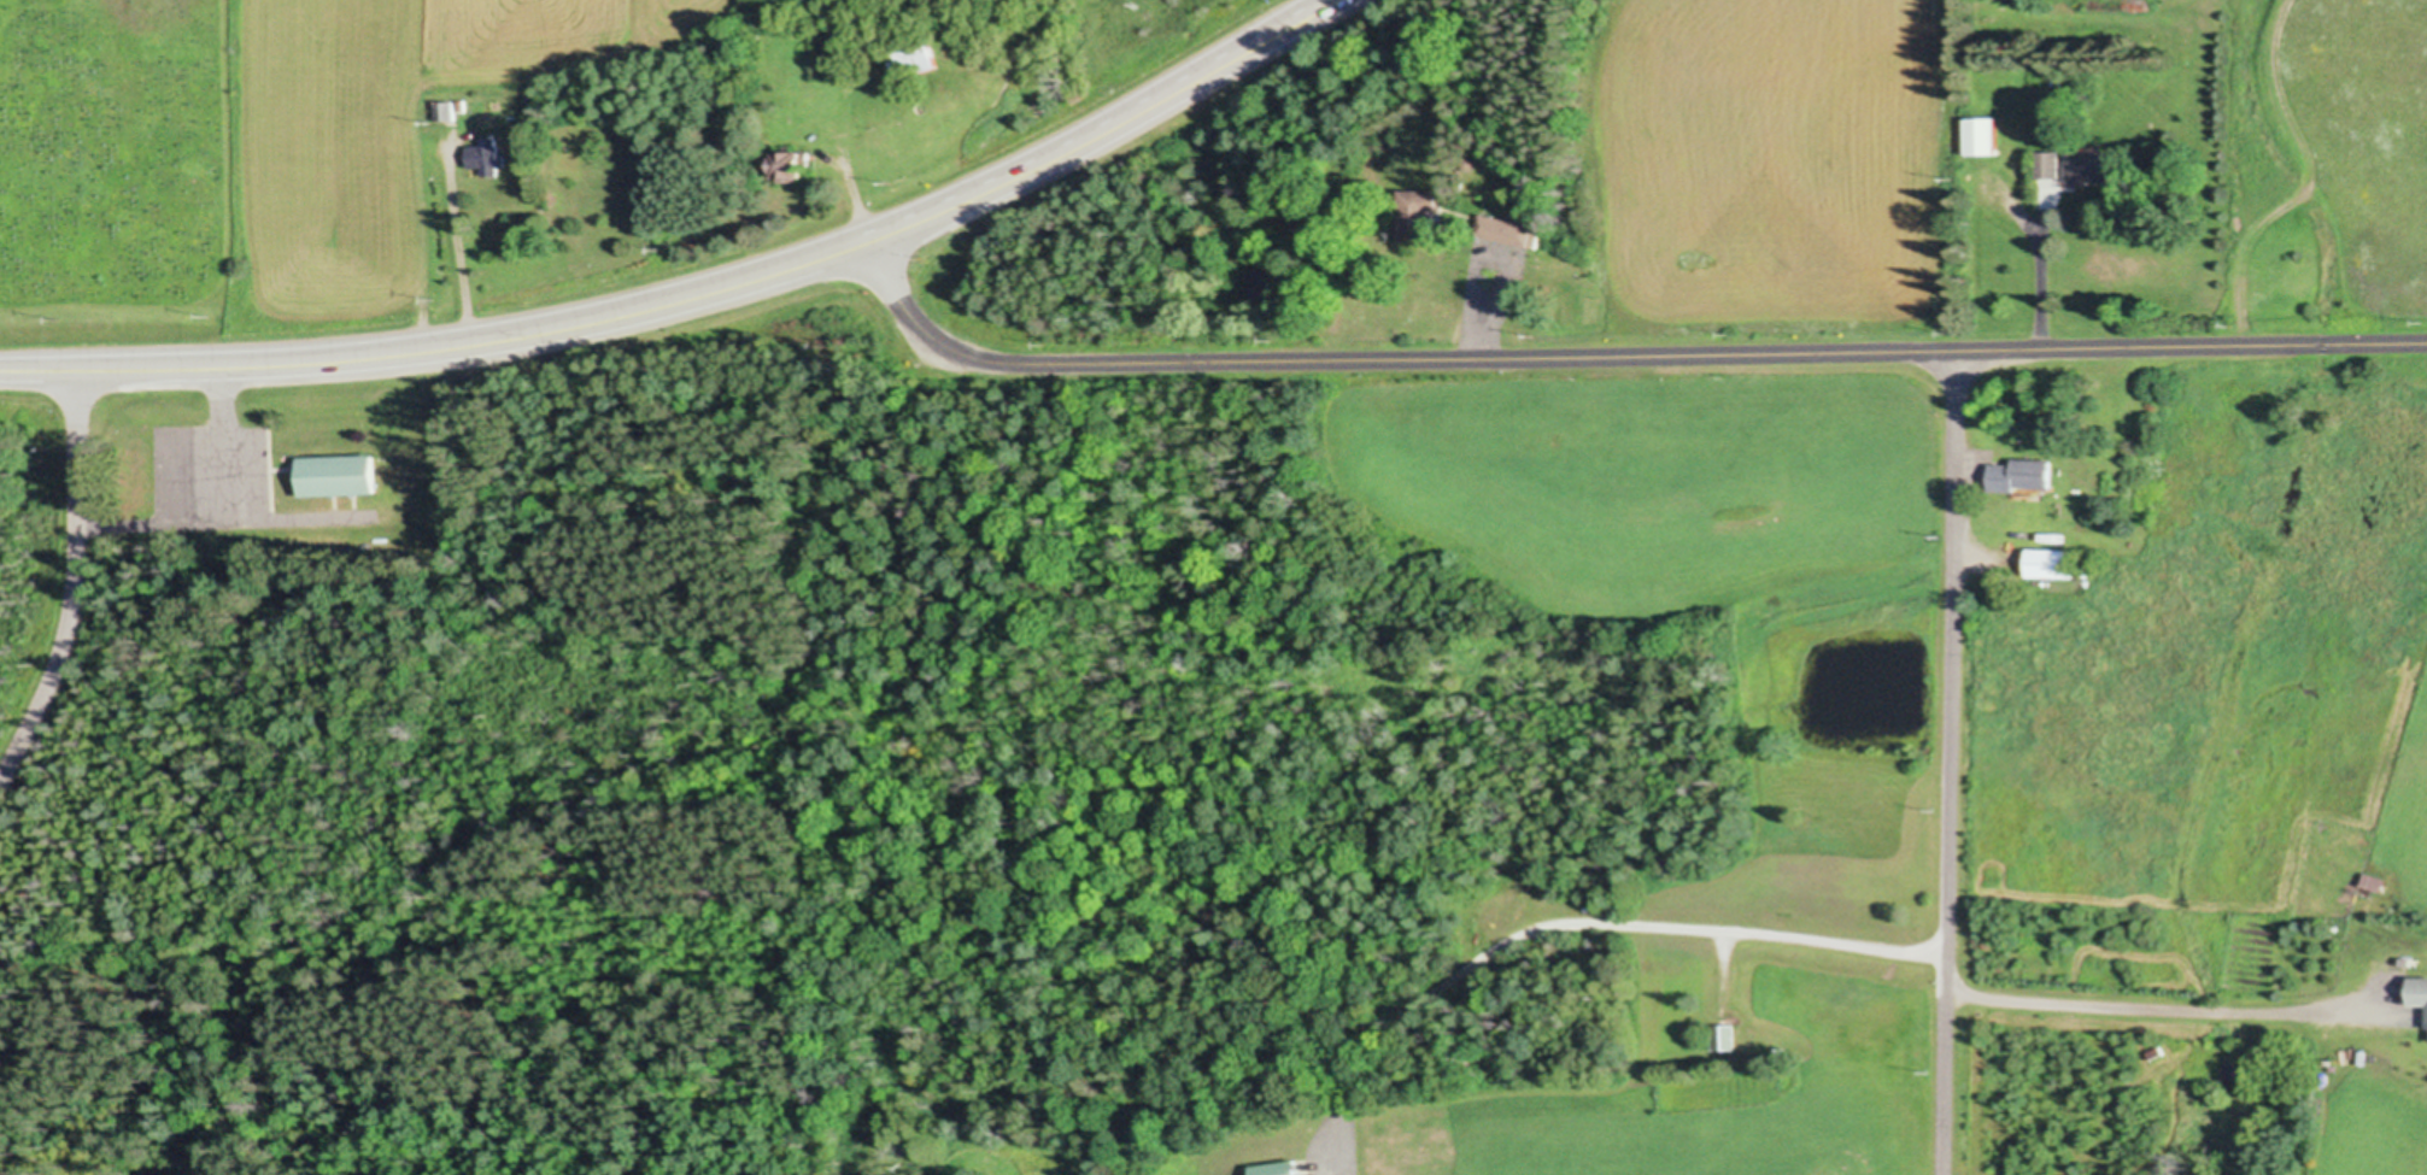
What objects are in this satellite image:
road: (1113, 133)
road: (2309, 184)
road: (857, 210)
road: (459, 251)
road: (2041, 289)
road: (1484, 336)
road: (441, 352)
road: (1617, 358)
road: (224, 446)
road: (221, 522)
road: (72, 587)
road: (1951, 764)
road: (1600, 930)
road: (2153, 1010)

